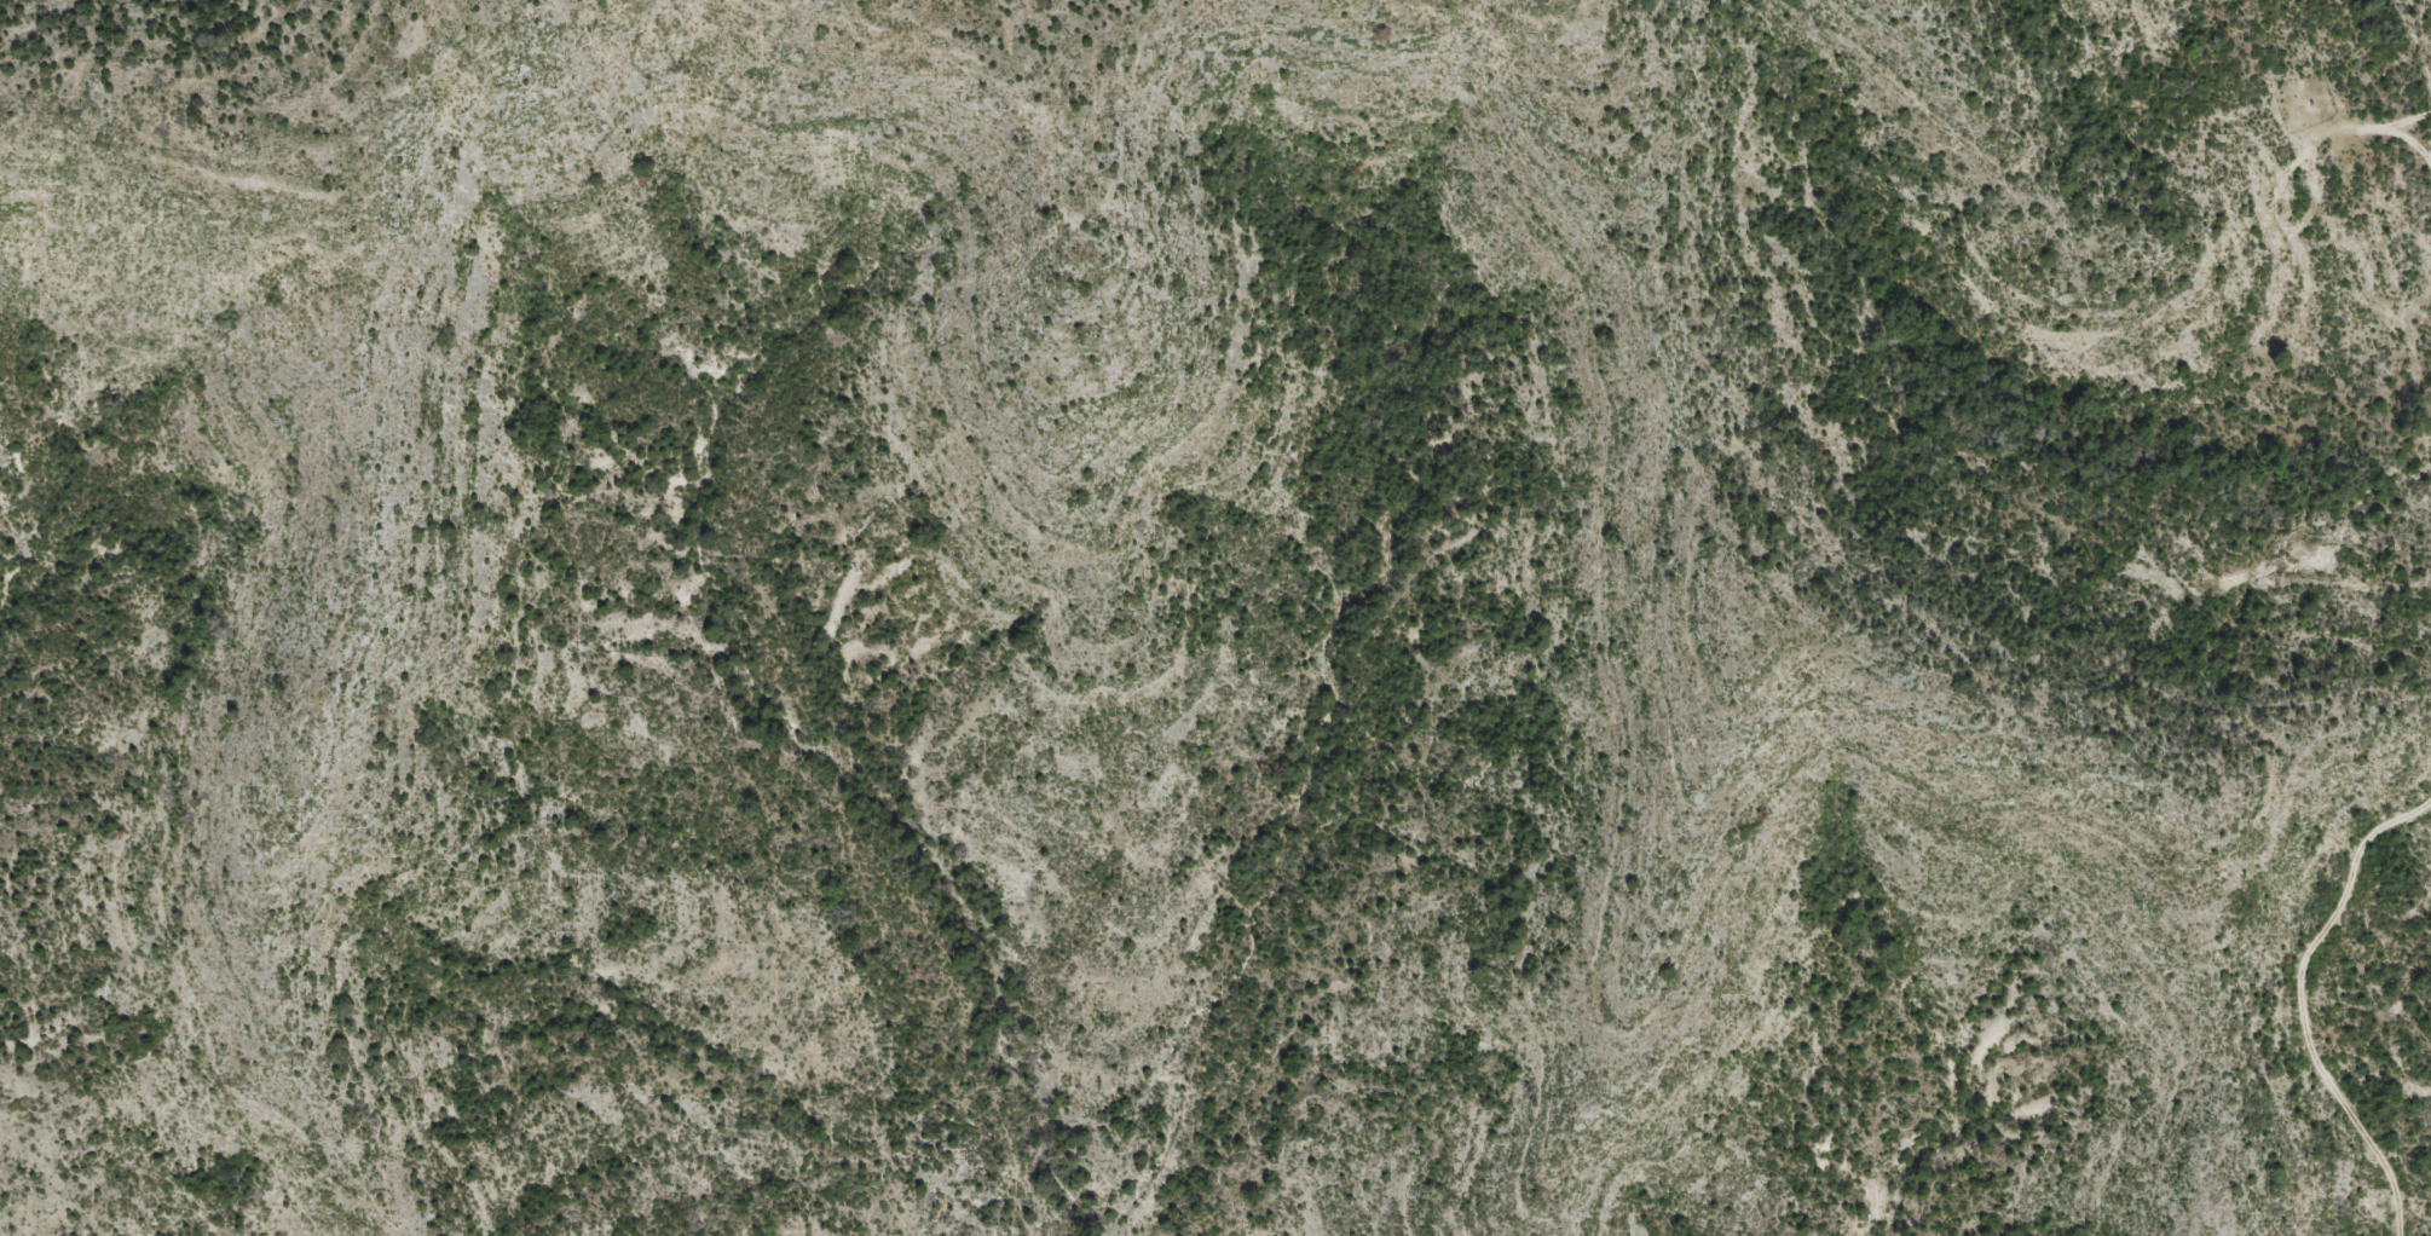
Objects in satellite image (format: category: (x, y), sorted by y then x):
road: (2304, 1009)

